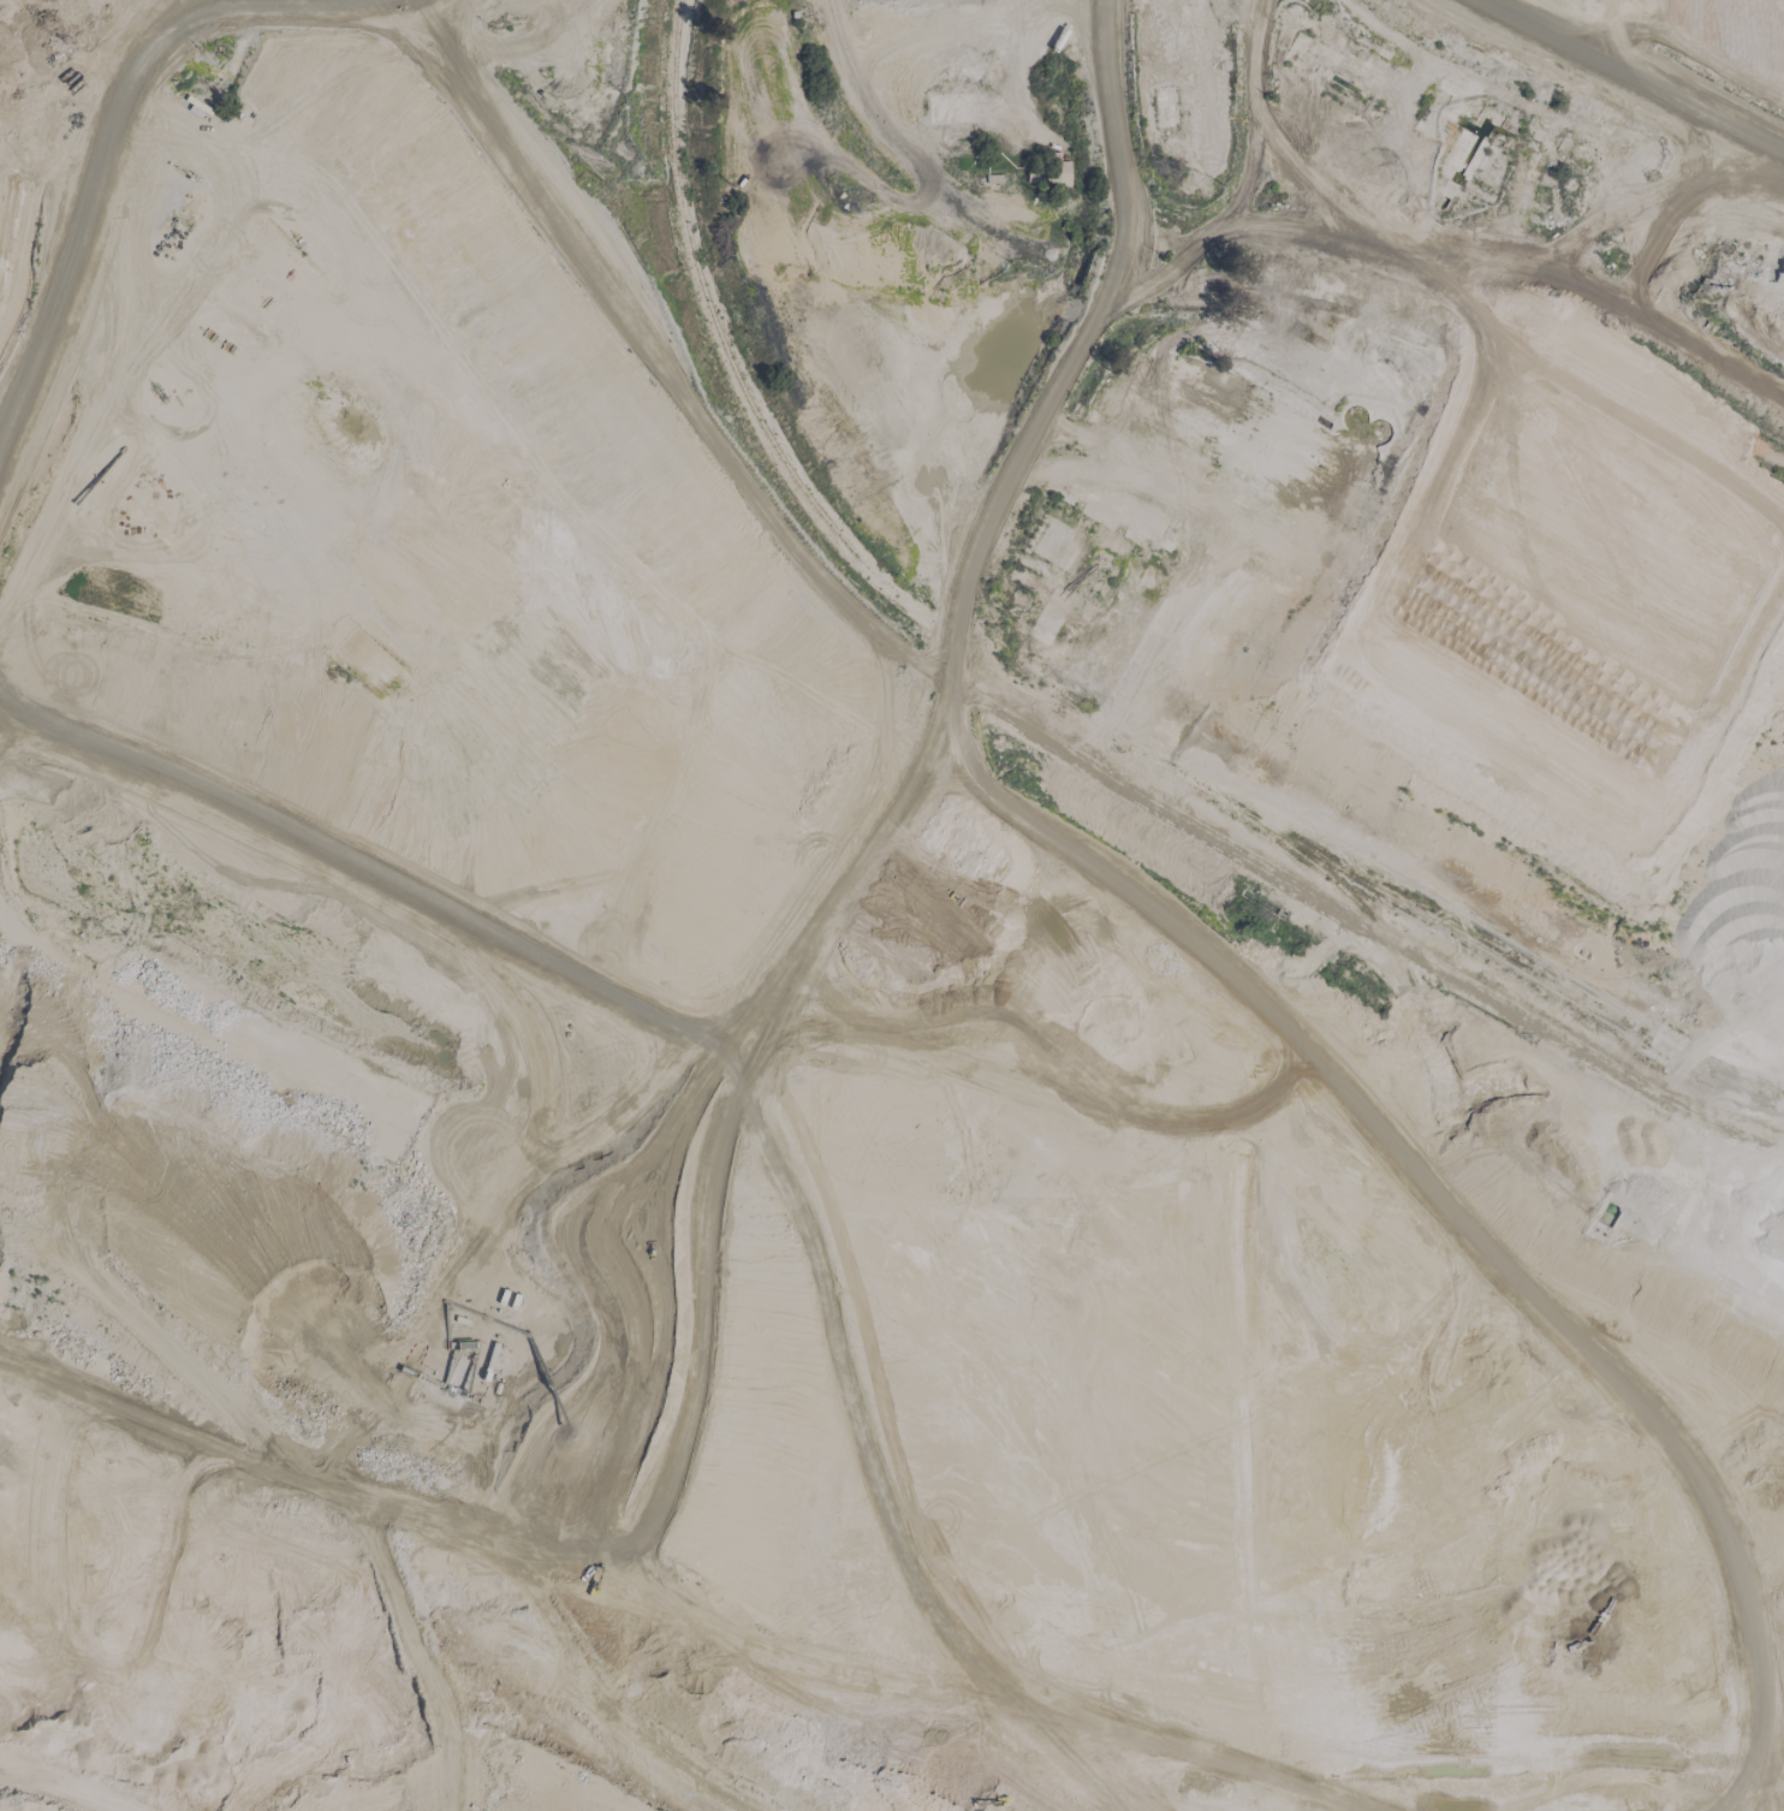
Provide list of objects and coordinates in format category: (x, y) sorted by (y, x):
railway: (914, 152)
railway: (905, 159)
road: (971, 696)
railway: (1116, 741)
quarry: (892, 905)
railway: (1452, 912)
railway: (1501, 963)
railway: (1717, 1106)
building: (1602, 1138)
road: (126, 1473)

